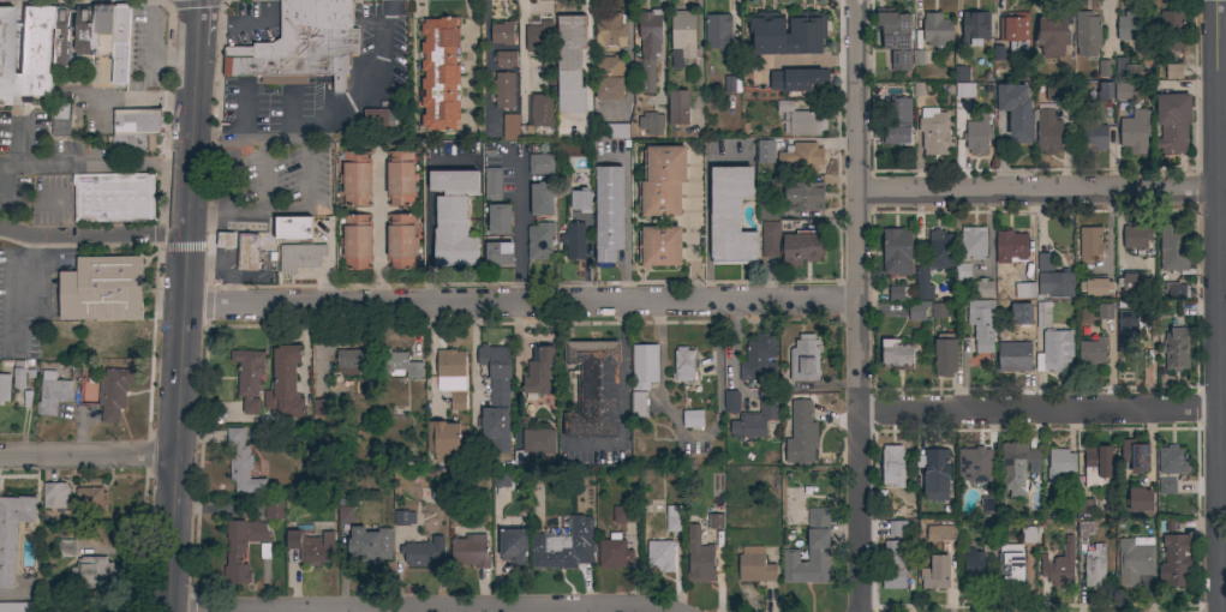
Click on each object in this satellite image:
road: (197, 24)
building: (974, 28)
building: (1132, 28)
building: (84, 29)
building: (103, 30)
building: (1171, 30)
building: (717, 31)
building: (937, 31)
building: (611, 32)
building: (787, 32)
building: (1015, 32)
building: (503, 34)
building: (1052, 34)
building: (1087, 34)
building: (64, 36)
building: (539, 36)
building: (682, 37)
building: (896, 37)
building: (342, 42)
building: (120, 43)
road: (70, 47)
building: (289, 47)
building: (648, 47)
road: (519, 52)
building: (26, 56)
road: (17, 59)
building: (504, 59)
road: (629, 59)
road: (588, 60)
building: (570, 64)
building: (1120, 66)
road: (486, 67)
building: (1105, 68)
building: (1173, 72)
building: (961, 73)
building: (441, 74)
building: (609, 78)
building: (797, 79)
building: (729, 85)
building: (964, 90)
building: (503, 91)
building: (1105, 91)
building: (1123, 91)
building: (1057, 92)
road: (137, 100)
building: (678, 108)
road: (327, 110)
building: (540, 110)
building: (1016, 112)
building: (379, 118)
building: (60, 120)
building: (802, 120)
building: (897, 121)
building: (137, 122)
building: (1172, 122)
building: (651, 124)
building: (510, 126)
building: (1136, 131)
building: (933, 132)
building: (1048, 132)
building: (615, 133)
building: (977, 134)
building: (1090, 138)
building: (132, 143)
building: (560, 144)
building: (765, 151)
building: (802, 156)
building: (540, 164)
road: (95, 166)
building: (400, 178)
building: (355, 179)
building: (662, 181)
building: (492, 184)
road: (1033, 193)
road: (227, 194)
building: (805, 196)
building: (113, 198)
building: (542, 199)
building: (580, 200)
building: (766, 206)
road: (289, 208)
building: (609, 214)
building: (730, 216)
building: (454, 217)
building: (500, 218)
building: (293, 228)
road: (518, 229)
road: (627, 230)
road: (1219, 234)
road: (377, 235)
road: (94, 236)
building: (1136, 236)
building: (770, 239)
building: (226, 240)
building: (401, 241)
building: (539, 241)
building: (573, 241)
building: (357, 242)
building: (973, 242)
building: (1090, 242)
building: (660, 246)
building: (1010, 246)
building: (802, 247)
building: (1174, 248)
building: (941, 251)
building: (245, 252)
gas station: (247, 252)
building: (897, 252)
building: (498, 253)
building: (300, 257)
building: (1045, 262)
building: (962, 271)
building: (1135, 281)
building: (922, 283)
building: (1055, 284)
building: (1096, 287)
building: (981, 288)
road: (20, 289)
building: (102, 289)
building: (1024, 289)
building: (1177, 289)
building: (898, 293)
road: (519, 302)
road: (855, 306)
road: (1213, 306)
building: (1021, 308)
building: (938, 310)
building: (917, 311)
building: (1105, 311)
building: (1043, 314)
building: (982, 325)
road: (184, 329)
building: (1136, 331)
building: (1176, 349)
building: (1057, 350)
building: (1092, 350)
building: (897, 354)
building: (945, 355)
building: (1013, 356)
building: (805, 359)
road: (471, 360)
building: (759, 360)
building: (354, 361)
building: (397, 365)
building: (683, 365)
building: (644, 366)
building: (539, 371)
building: (19, 376)
building: (249, 377)
building: (451, 377)
building: (285, 384)
building: (5, 388)
building: (593, 389)
building: (113, 392)
building: (53, 394)
building: (496, 397)
building: (731, 401)
building: (639, 404)
road: (1035, 409)
building: (321, 410)
building: (756, 416)
building: (693, 419)
building: (801, 432)
building: (444, 440)
building: (534, 444)
building: (1135, 455)
road: (89, 456)
building: (1172, 461)
building: (241, 464)
building: (1060, 464)
building: (893, 466)
building: (974, 466)
building: (1096, 466)
building: (1016, 467)
building: (935, 474)
building: (502, 479)
building: (1167, 487)
building: (55, 496)
road: (1221, 496)
building: (1140, 500)
building: (90, 503)
building: (988, 504)
building: (1084, 506)
building: (274, 510)
building: (346, 515)
building: (627, 515)
building: (403, 517)
building: (674, 518)
building: (716, 521)
building: (1084, 529)
building: (13, 533)
building: (941, 533)
building: (1028, 534)
building: (987, 535)
building: (311, 545)
building: (513, 545)
building: (369, 546)
building: (66, 548)
building: (240, 548)
building: (470, 551)
building: (560, 551)
building: (809, 551)
building: (614, 552)
building: (420, 553)
building: (898, 554)
building: (659, 557)
building: (699, 557)
building: (1176, 558)
building: (1135, 560)
building: (973, 564)
building: (1059, 565)
building: (1010, 566)
building: (1095, 566)
building: (755, 569)
building: (91, 574)
building: (935, 574)
building: (17, 607)
road: (415, 610)
road: (394, 611)

